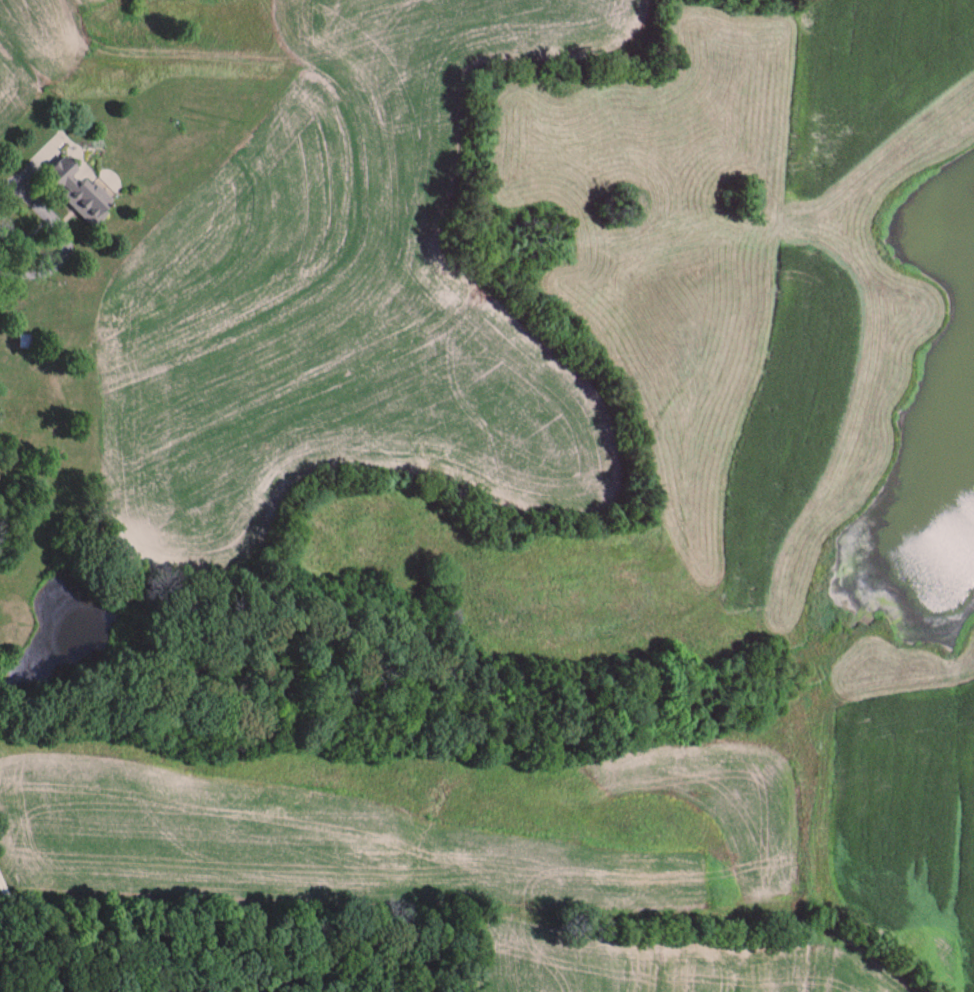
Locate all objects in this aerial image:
building: (84, 197)
road: (62, 236)
building: (27, 343)
road: (584, 753)
road: (28, 936)

